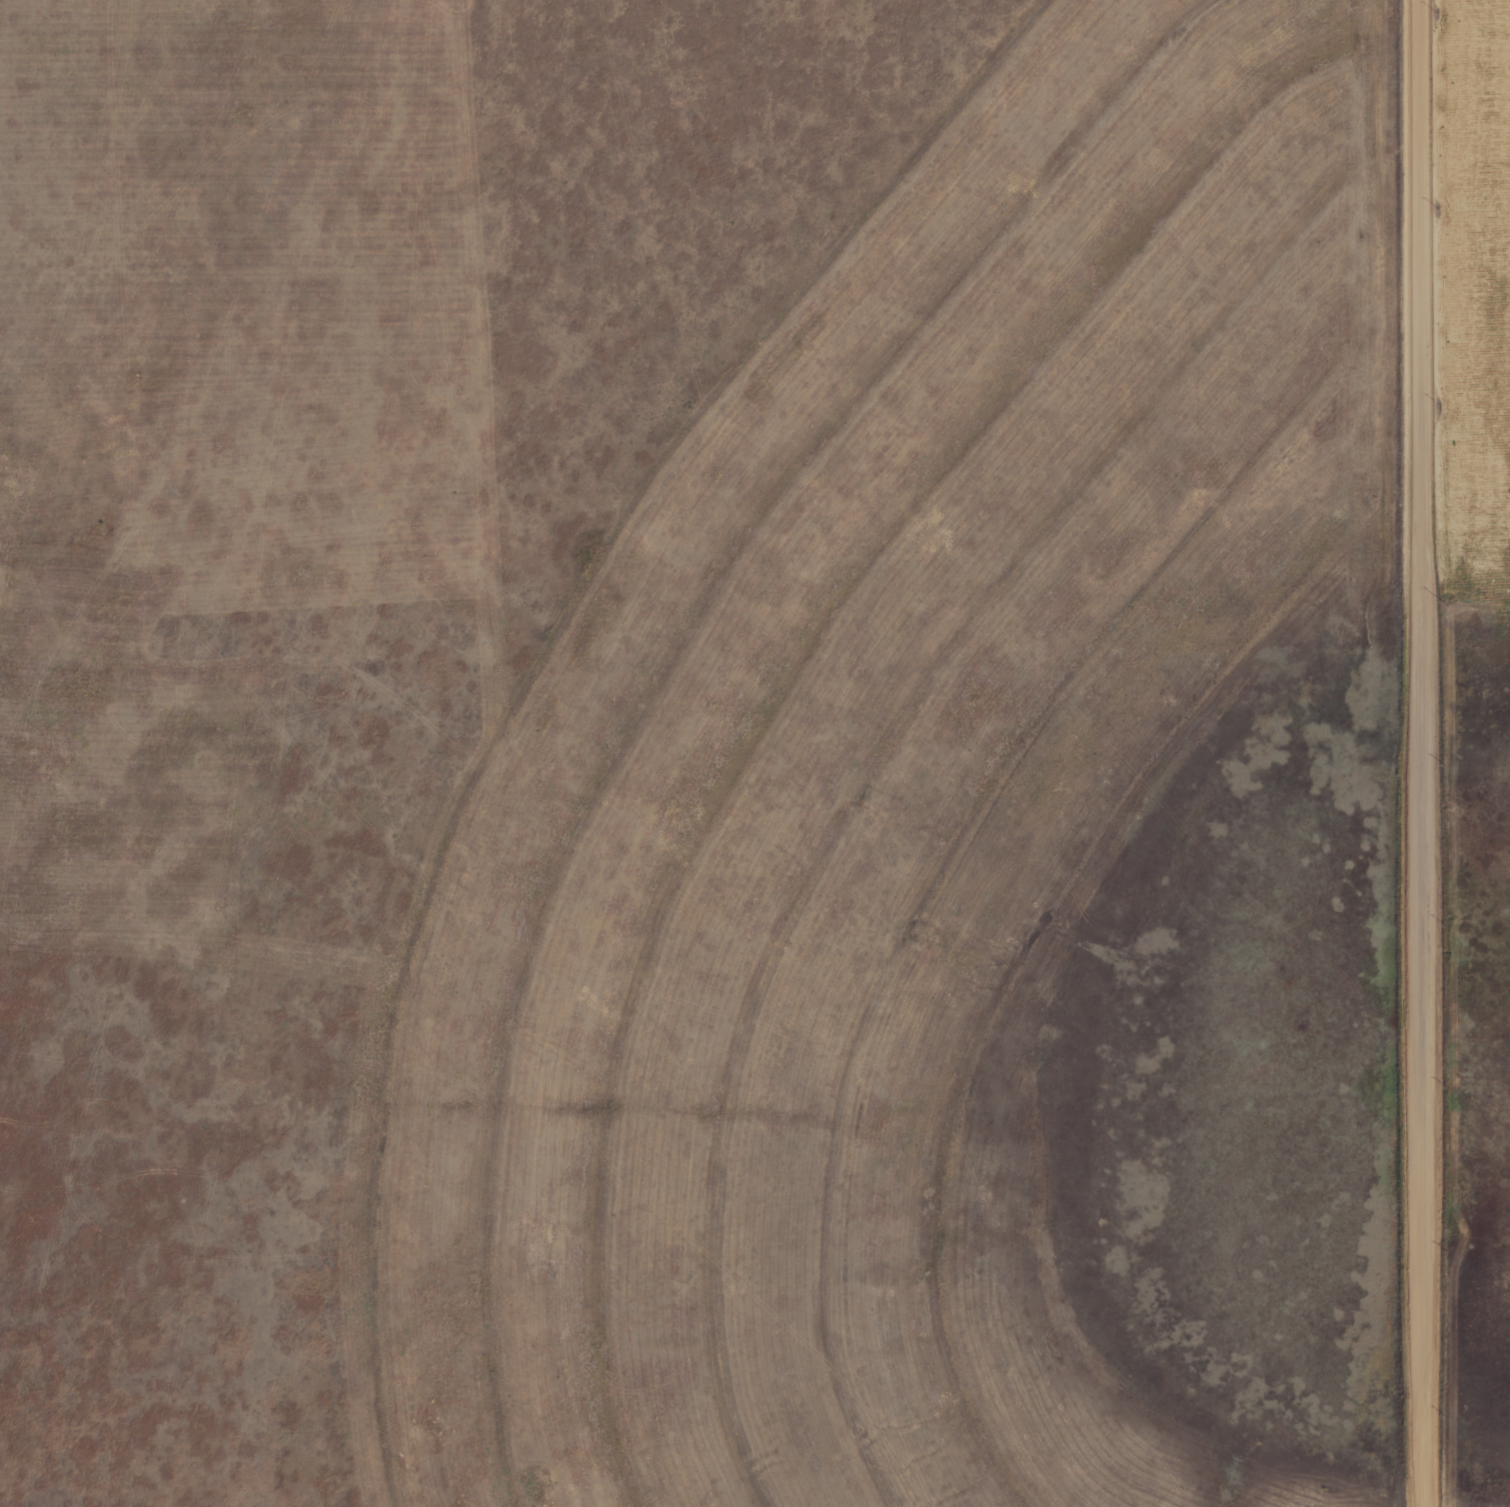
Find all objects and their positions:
road: (1439, 753)

